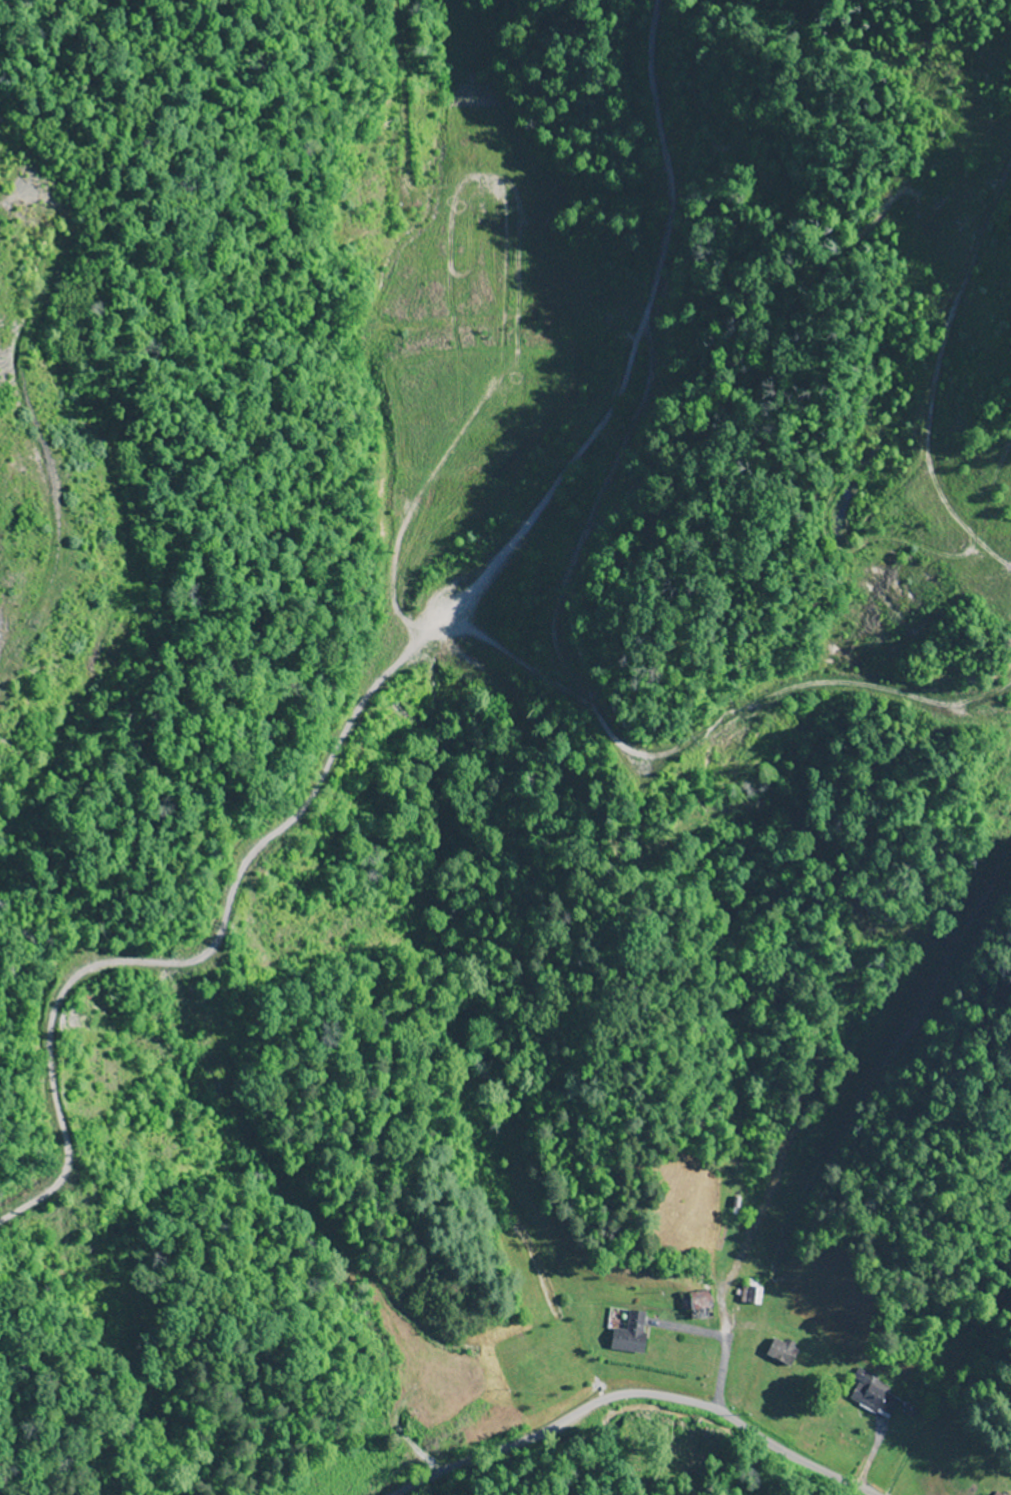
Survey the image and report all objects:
building: (751, 1292)
building: (697, 1303)
building: (631, 1334)
building: (782, 1351)
road: (636, 1393)
building: (875, 1399)

